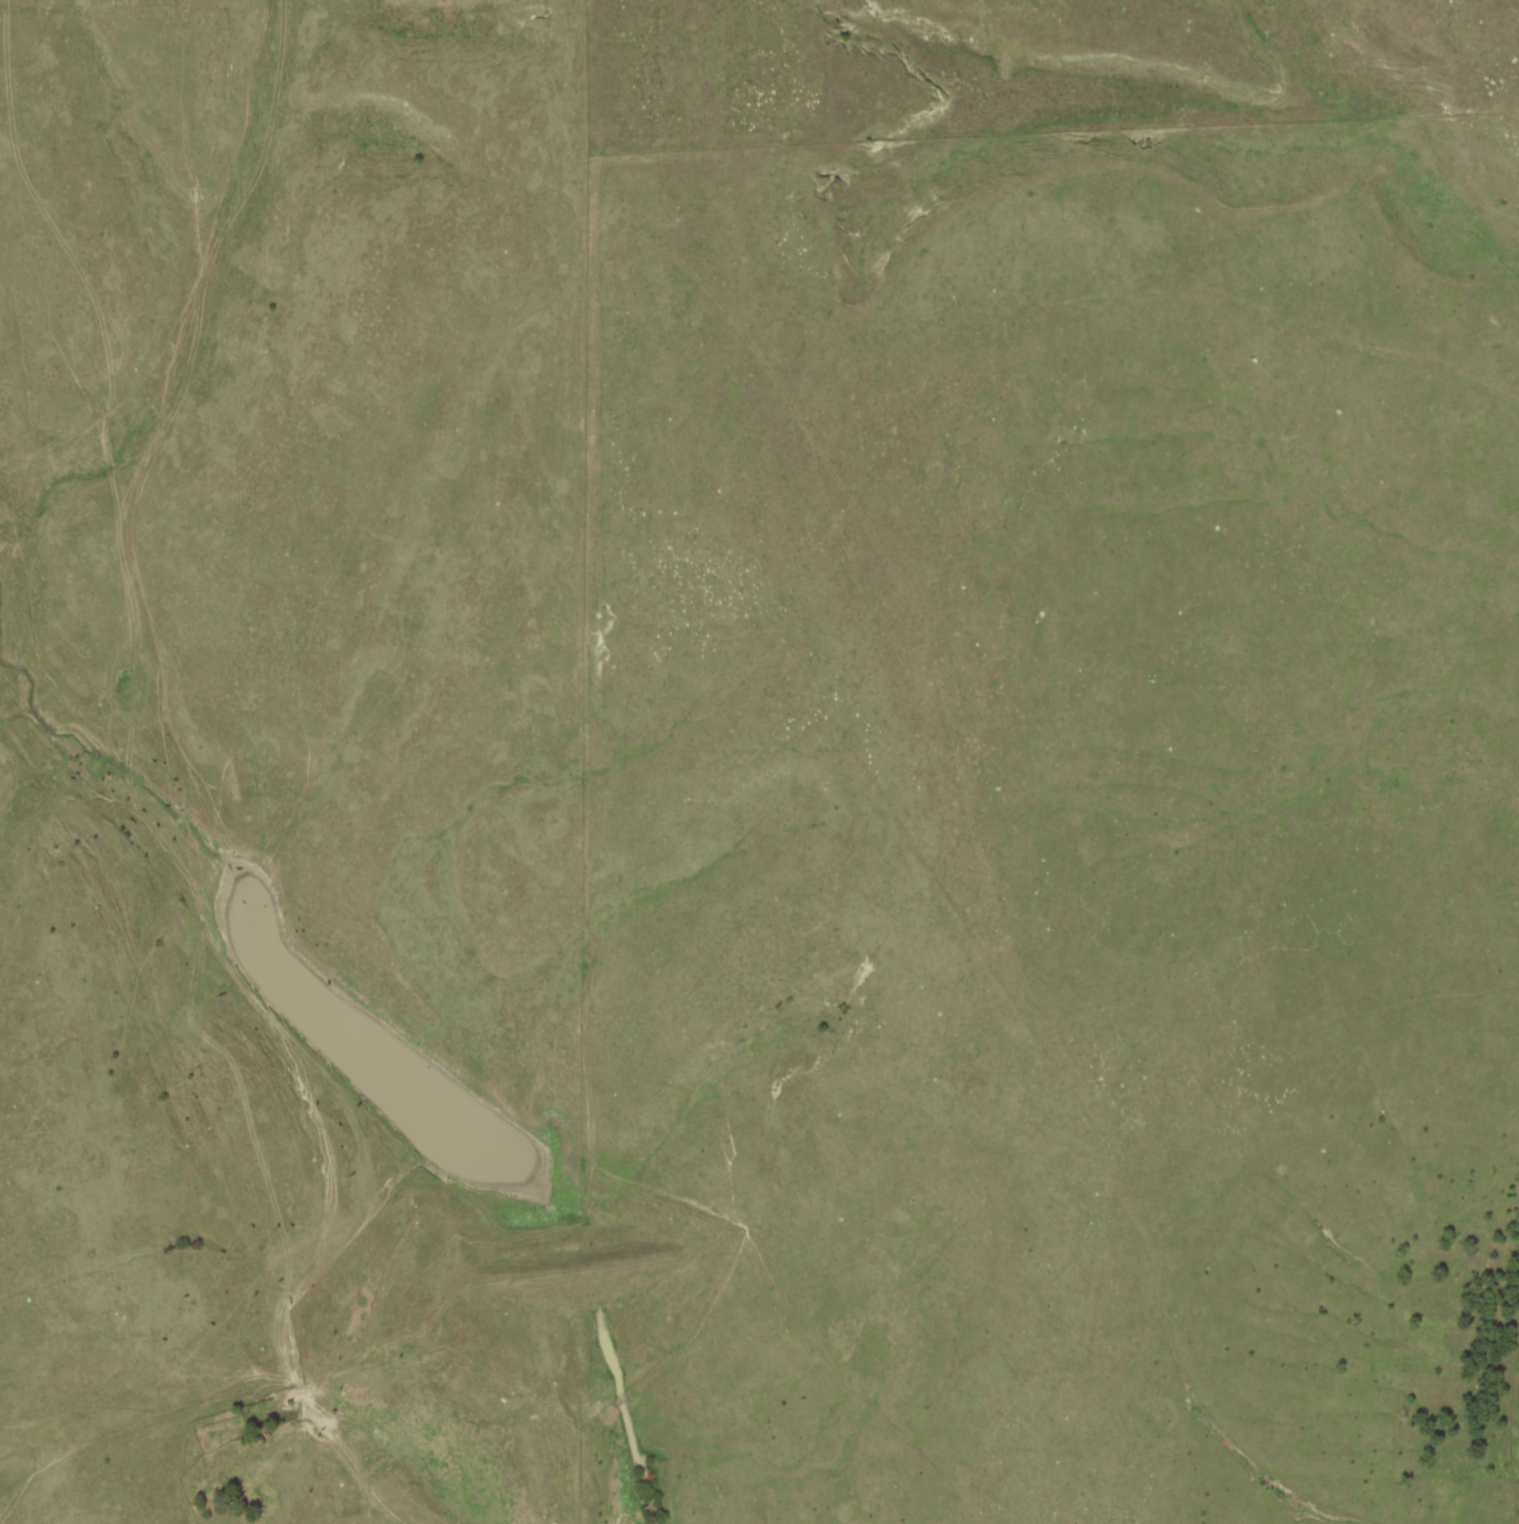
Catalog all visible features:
dam: (575, 1261)

